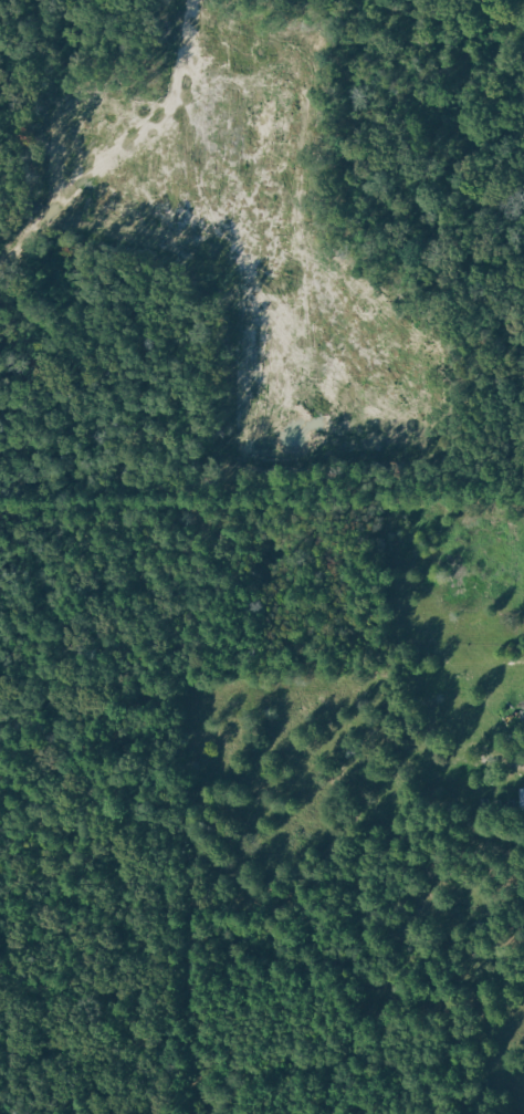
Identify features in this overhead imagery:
road: (18, 169)
road: (6, 343)
road: (126, 520)
building: (522, 798)

